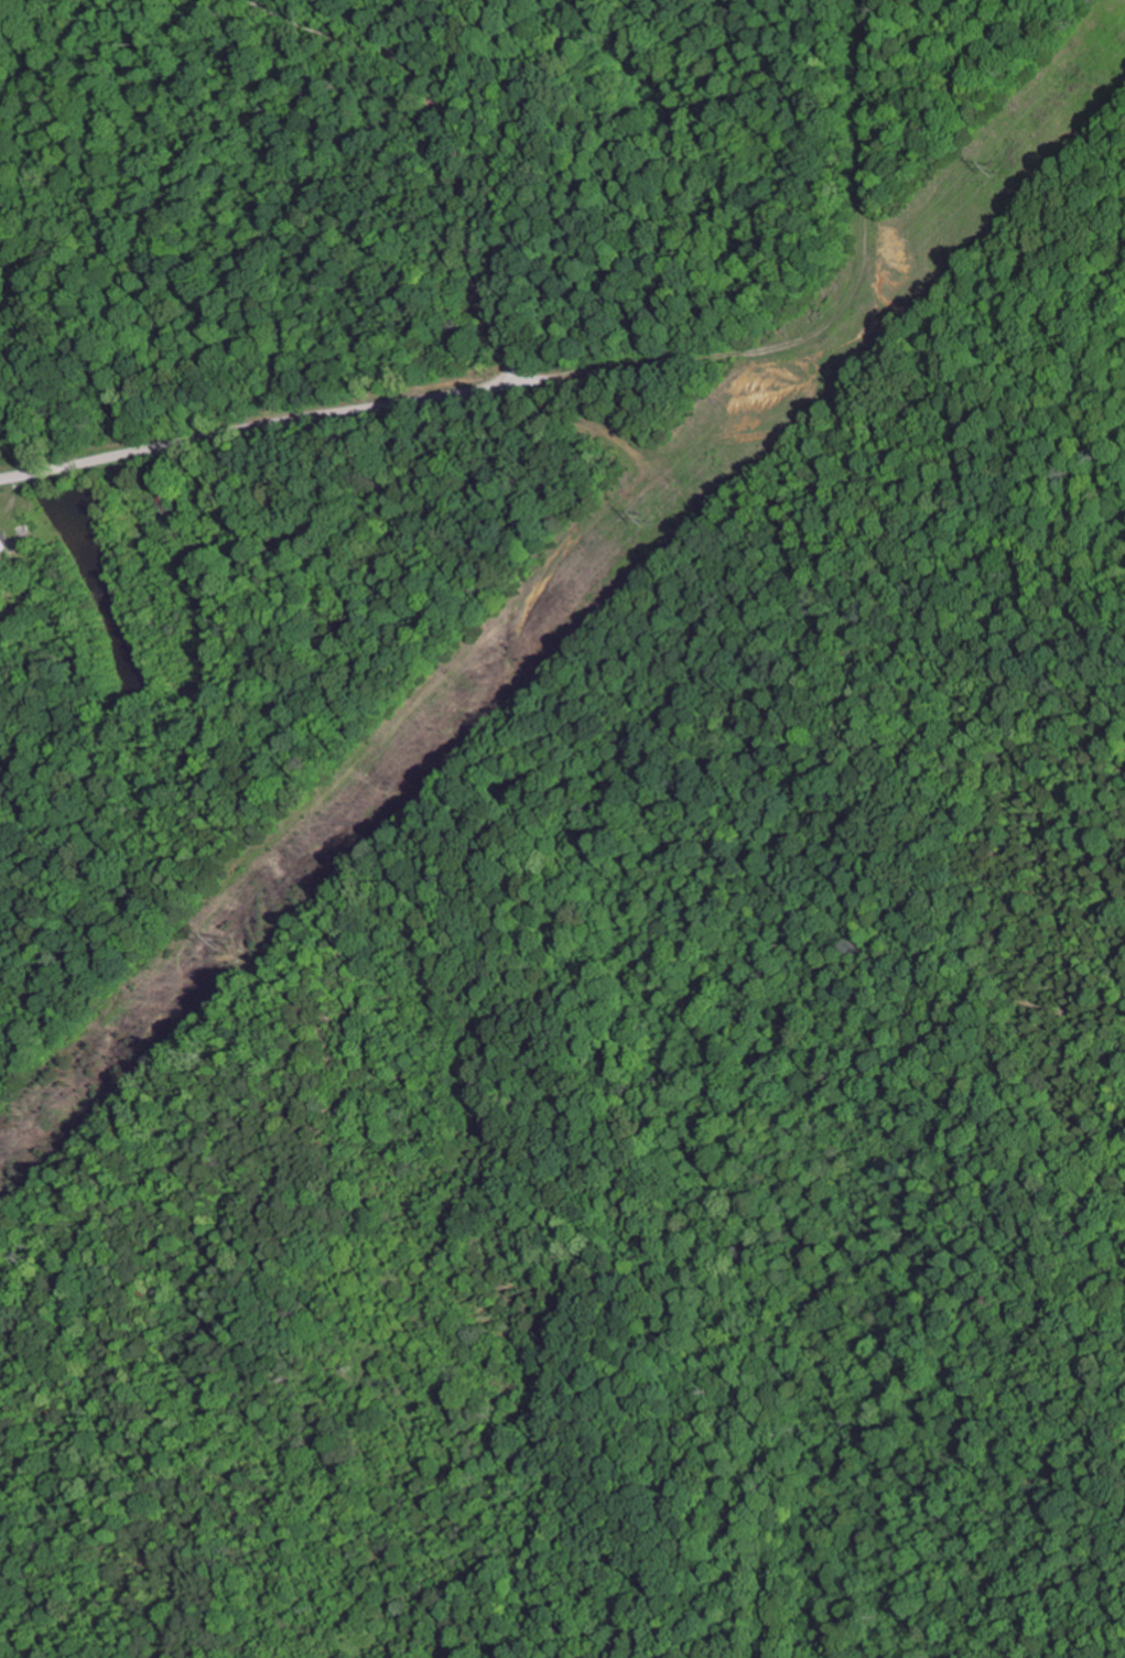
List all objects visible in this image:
road: (469, 108)
road: (336, 413)

